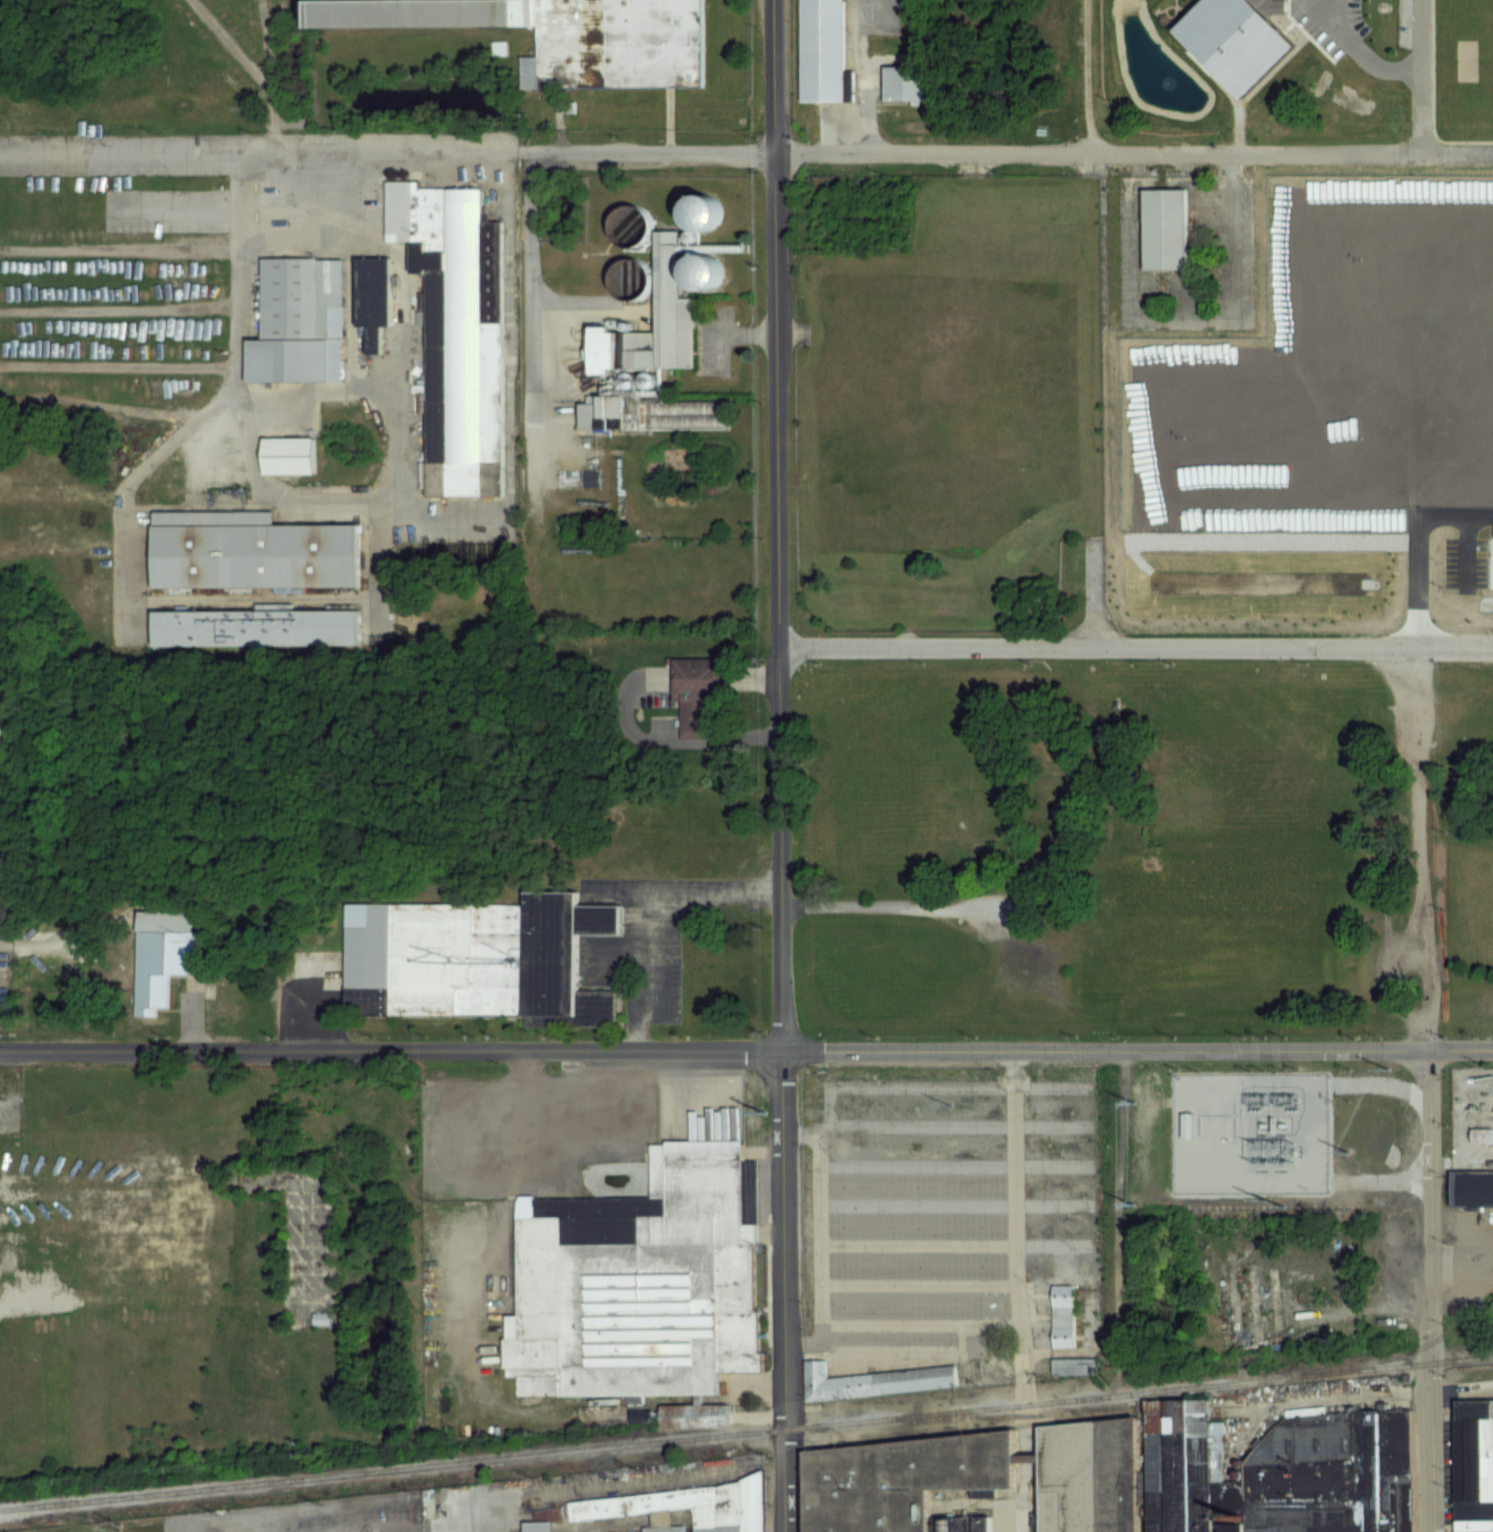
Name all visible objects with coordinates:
building: (561, 34)
building: (1234, 37)
building: (821, 51)
road: (1359, 53)
road: (251, 69)
road: (862, 77)
building: (901, 81)
road: (1007, 154)
road: (261, 155)
building: (705, 213)
building: (630, 226)
building: (1161, 227)
building: (705, 273)
building: (635, 281)
road: (528, 284)
building: (371, 297)
building: (297, 321)
road: (1424, 322)
road: (406, 323)
building: (454, 331)
building: (647, 359)
road: (224, 402)
building: (285, 453)
road: (324, 496)
building: (248, 549)
building: (253, 626)
road: (1135, 646)
building: (695, 694)
road: (778, 765)
road: (1418, 848)
road: (668, 896)
building: (159, 953)
building: (473, 958)
road: (746, 1052)
road: (902, 1084)
power substation: (9, 1099)
power substation: (1470, 1116)
road: (911, 1125)
power substation: (1246, 1131)
building: (1482, 1135)
building: (1470, 1187)
building: (636, 1283)
road: (1428, 1291)
building: (1060, 1315)
building: (323, 1319)
road: (943, 1325)
road: (806, 1340)
building: (1075, 1367)
building: (870, 1380)
road: (939, 1405)
building: (691, 1414)
railway: (746, 1431)
building: (1472, 1465)
building: (1277, 1473)
building: (1087, 1476)
building: (898, 1482)
building: (699, 1493)
building: (535, 1526)
road: (389, 1527)

